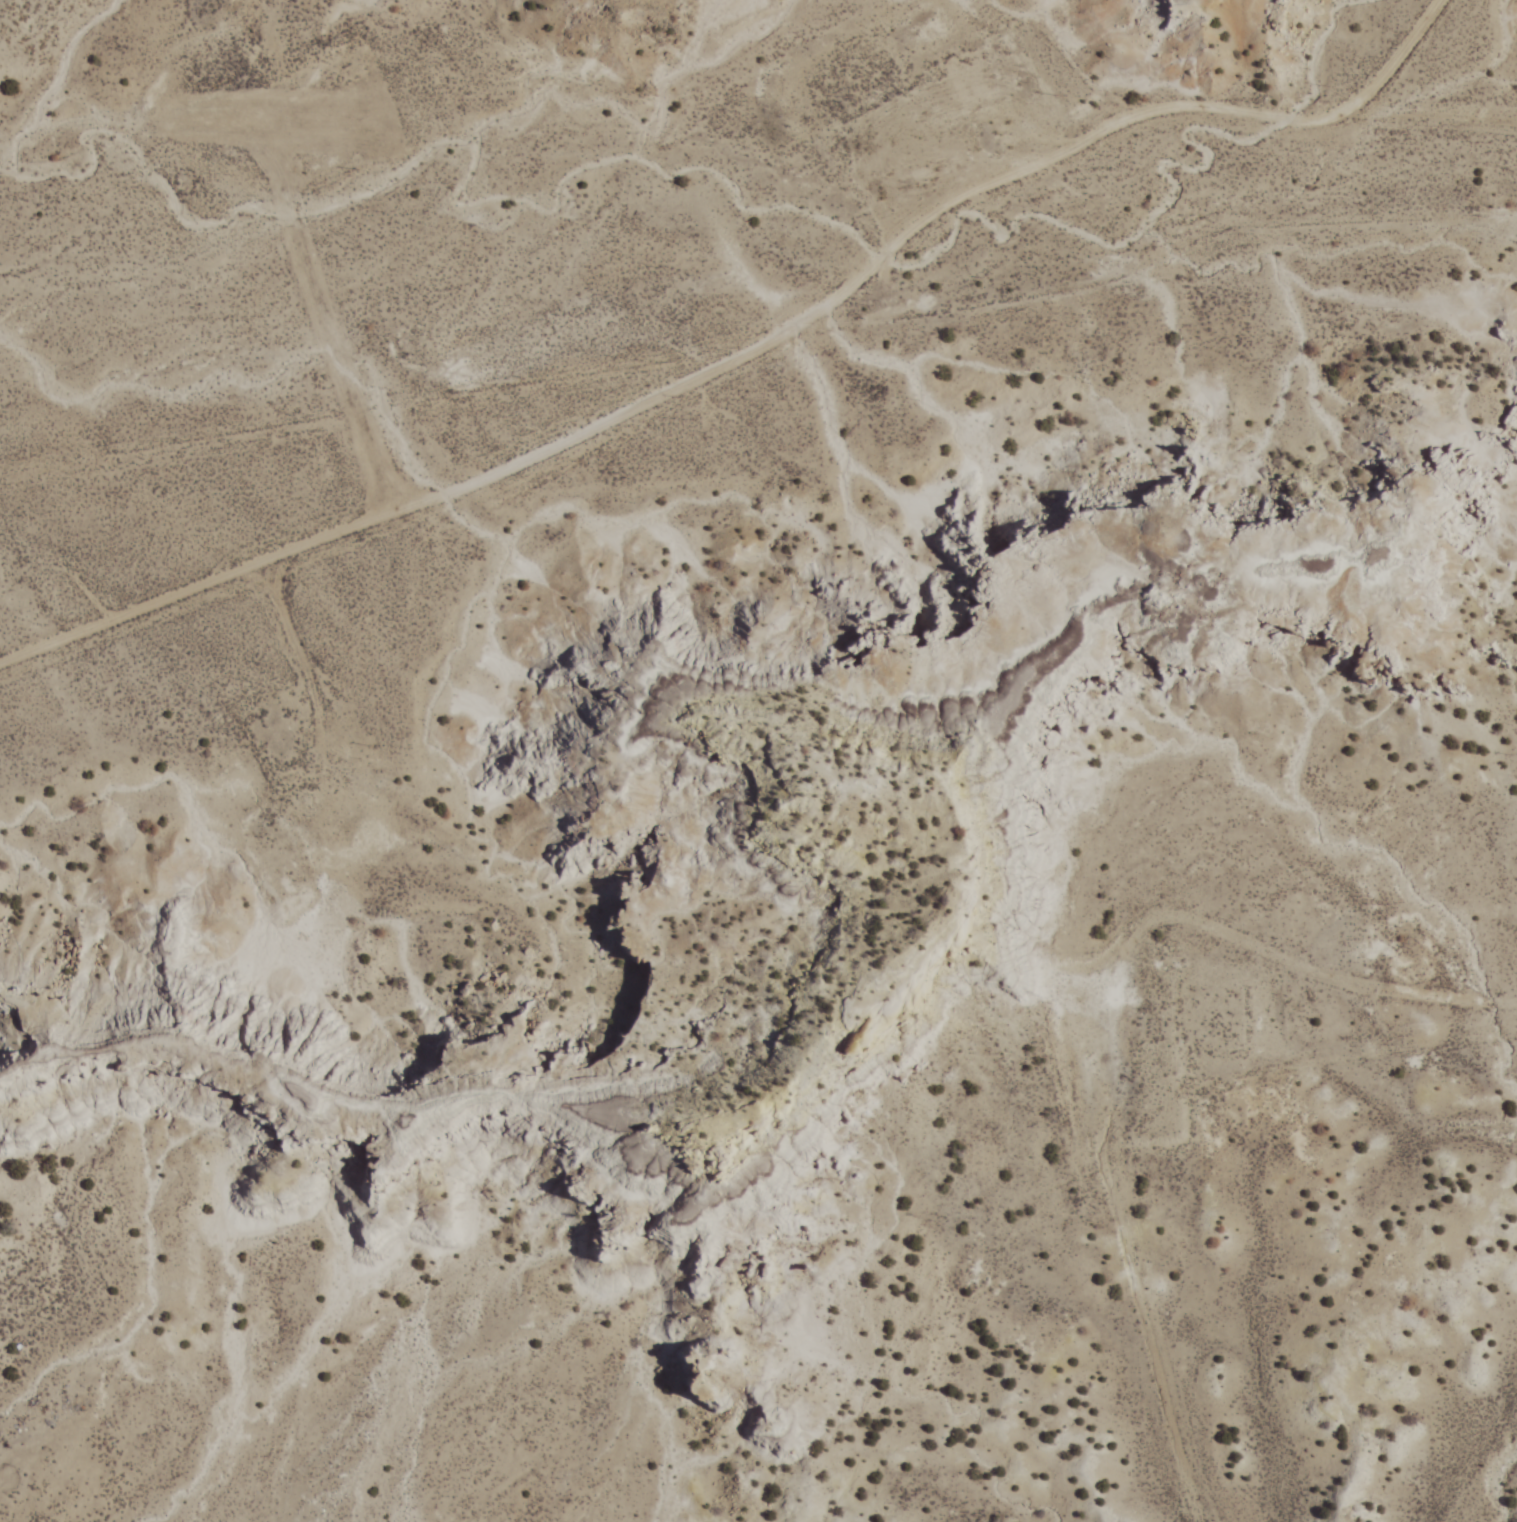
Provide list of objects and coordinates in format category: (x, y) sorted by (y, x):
road: (735, 345)

